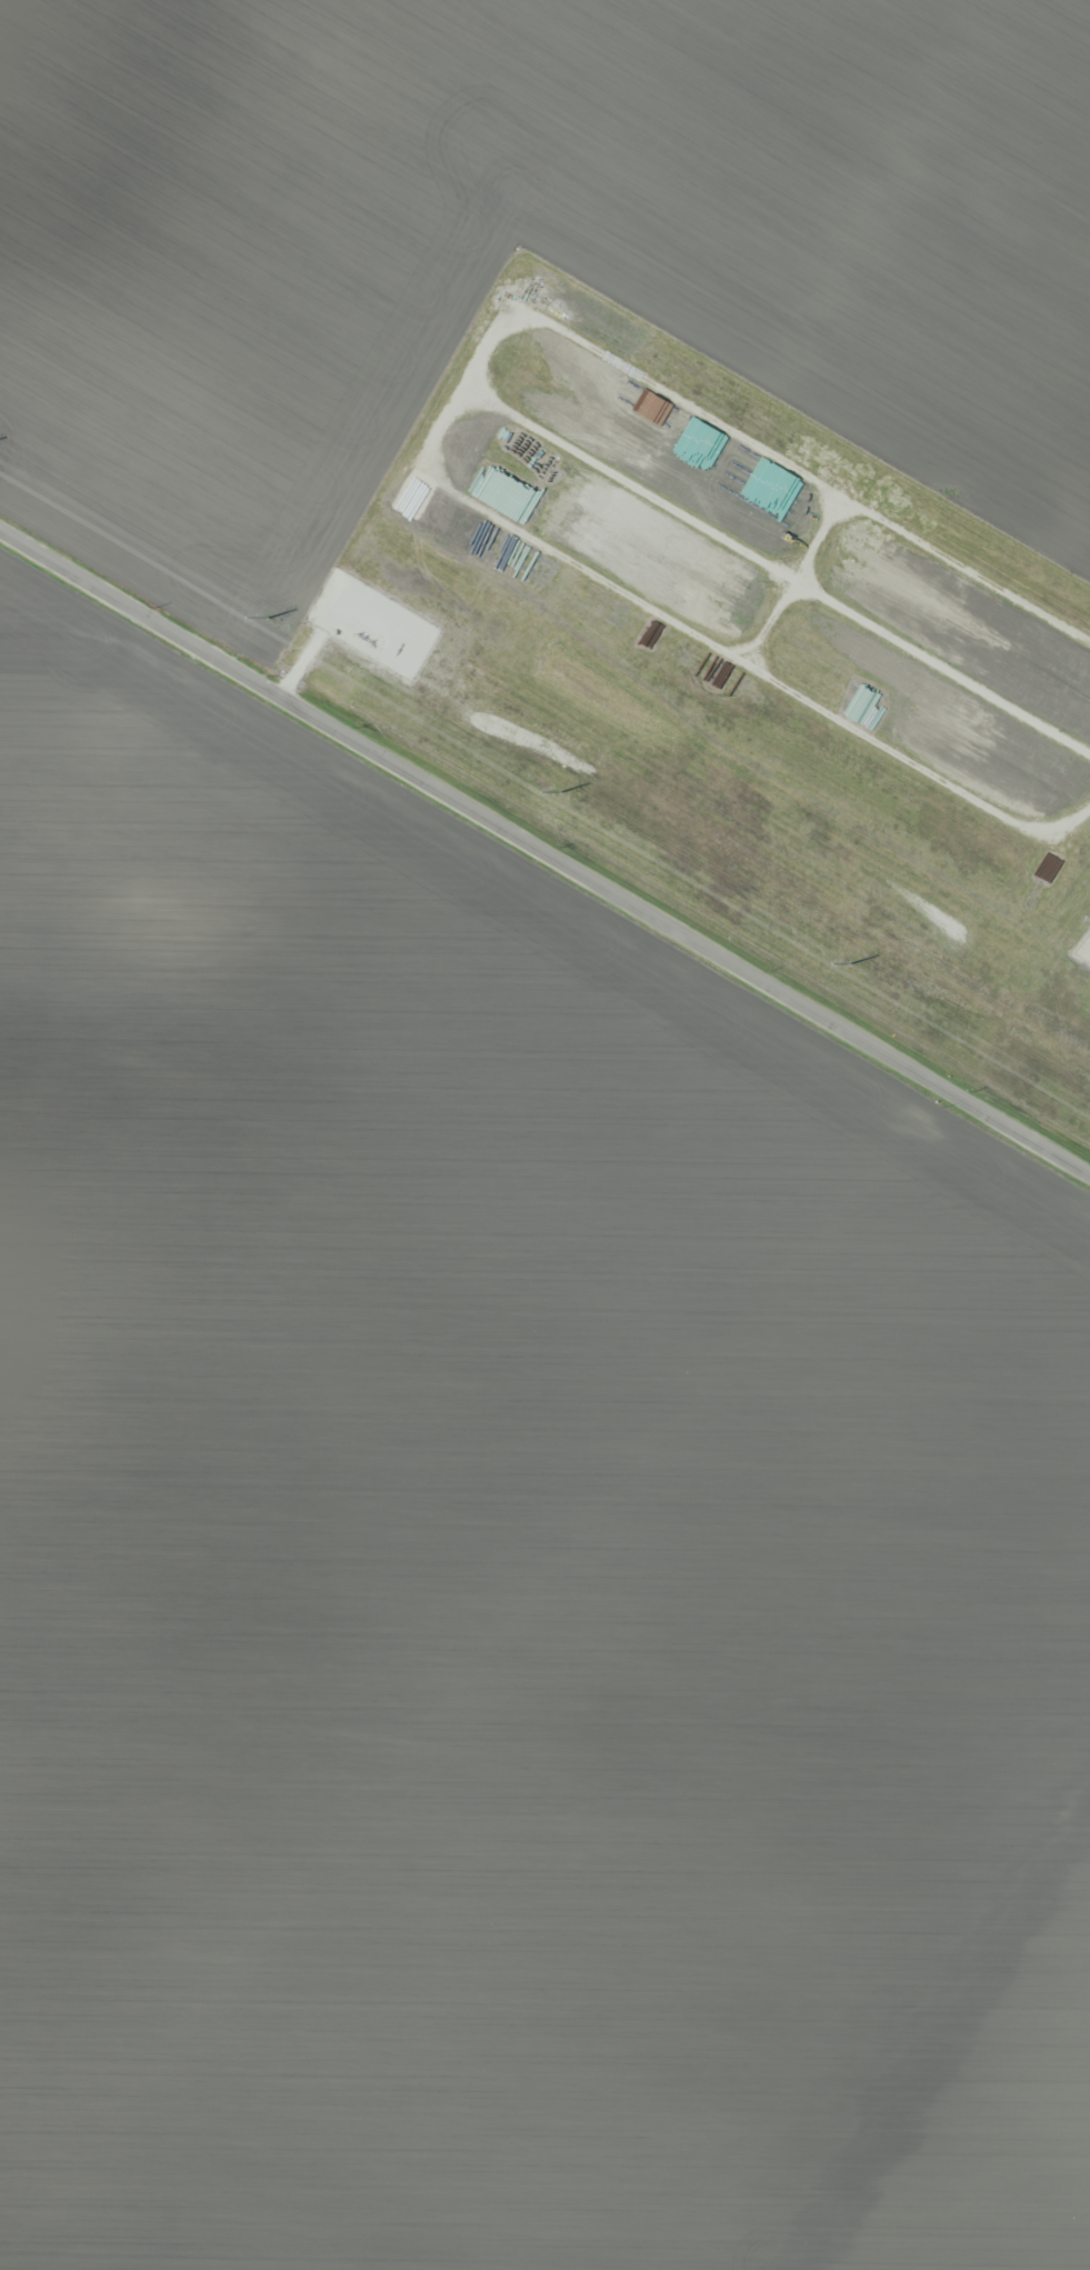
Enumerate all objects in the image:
power tower: (266, 618)
power tower: (560, 793)
road: (544, 856)
power tower: (849, 963)

